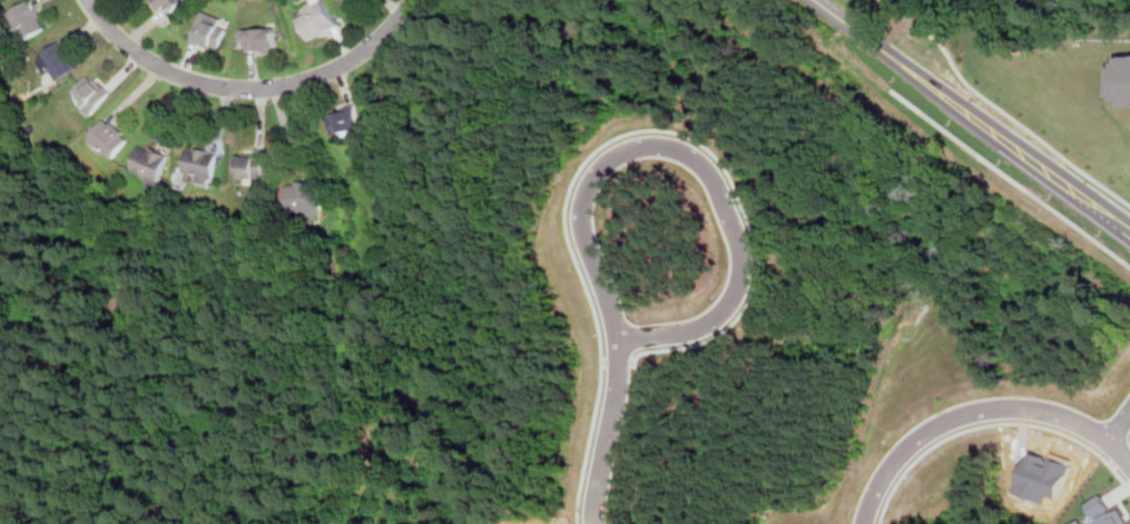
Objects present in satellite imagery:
road: (884, 0)
building: (348, 1)
building: (167, 6)
building: (26, 19)
building: (316, 19)
building: (207, 30)
building: (259, 38)
building: (56, 60)
street lamp: (138, 70)
street lamp: (352, 72)
building: (1120, 79)
road: (249, 88)
building: (698, 92)
building: (90, 93)
street lamp: (232, 99)
road: (1000, 108)
road: (972, 115)
building: (345, 121)
building: (566, 123)
building: (750, 130)
building: (108, 138)
building: (149, 162)
building: (202, 162)
building: (250, 165)
road: (698, 166)
road: (1010, 177)
building: (780, 191)
building: (302, 197)
building: (798, 251)
building: (776, 324)
building: (1030, 343)
building: (967, 350)
building: (552, 369)
building: (881, 384)
road: (981, 414)
road: (1119, 425)
building: (548, 429)
road: (612, 434)
building: (838, 434)
building: (1042, 474)
building: (530, 484)
building: (961, 484)
building: (657, 485)
building: (1103, 513)
building: (1077, 522)

